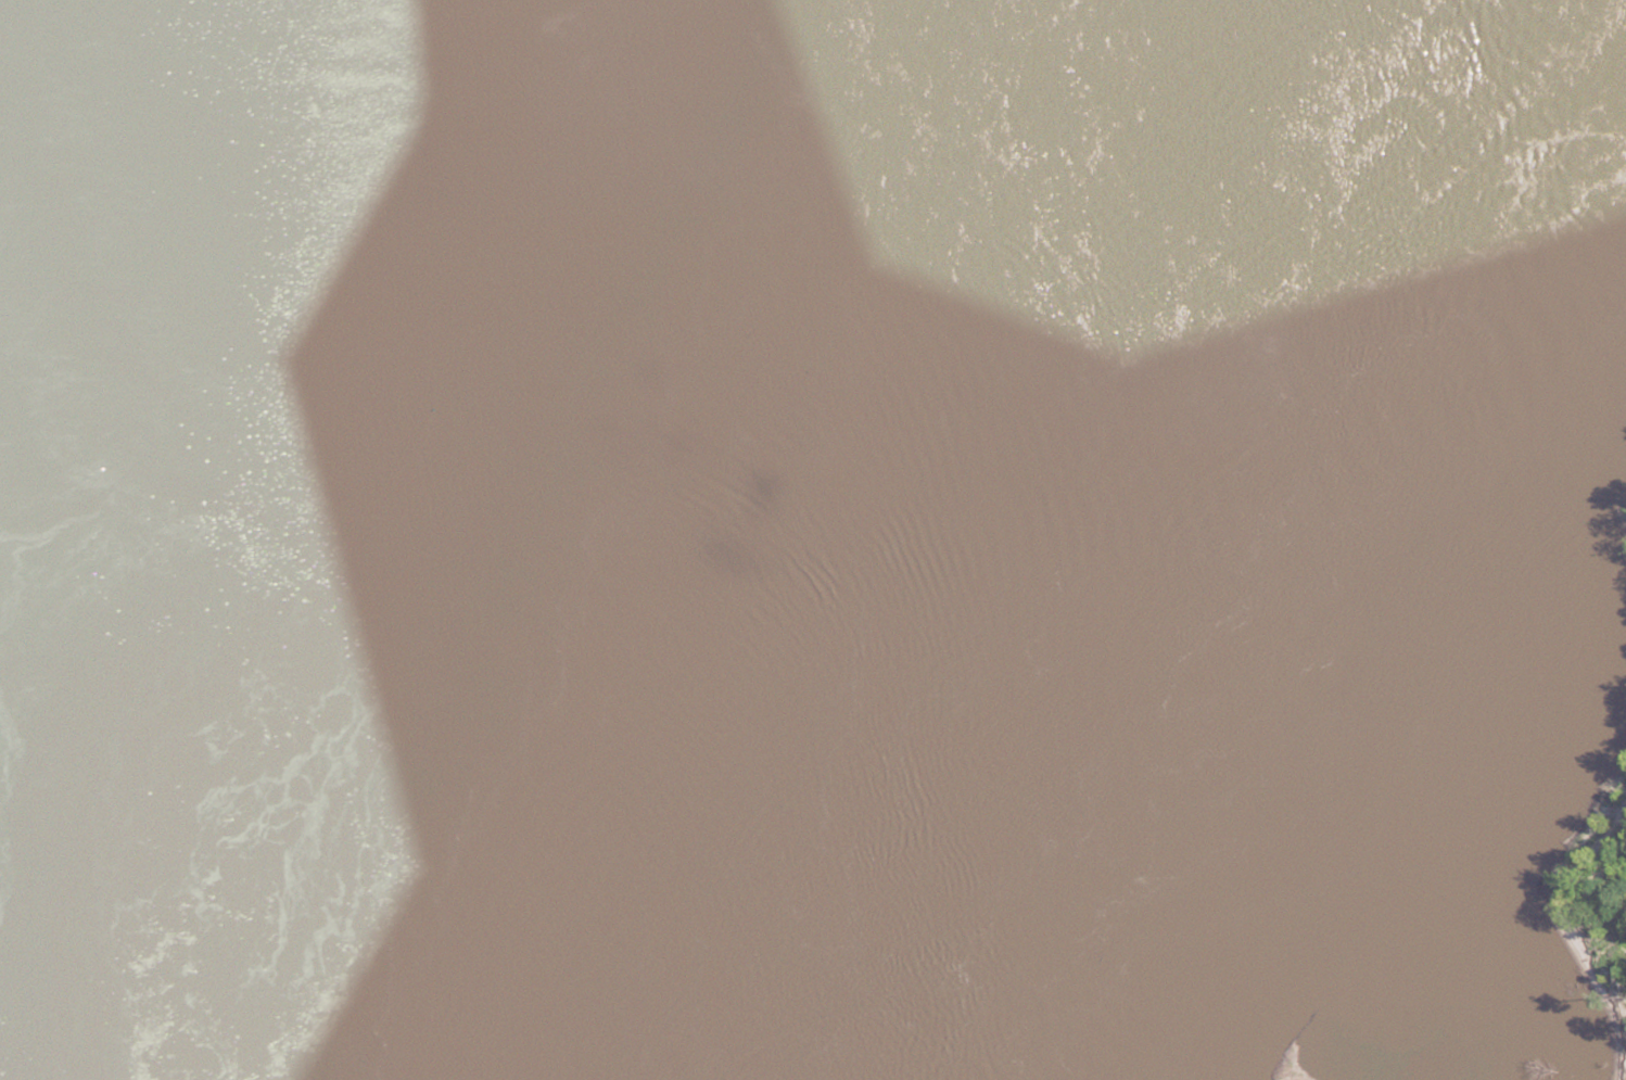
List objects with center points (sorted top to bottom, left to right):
river: (665, 539)

